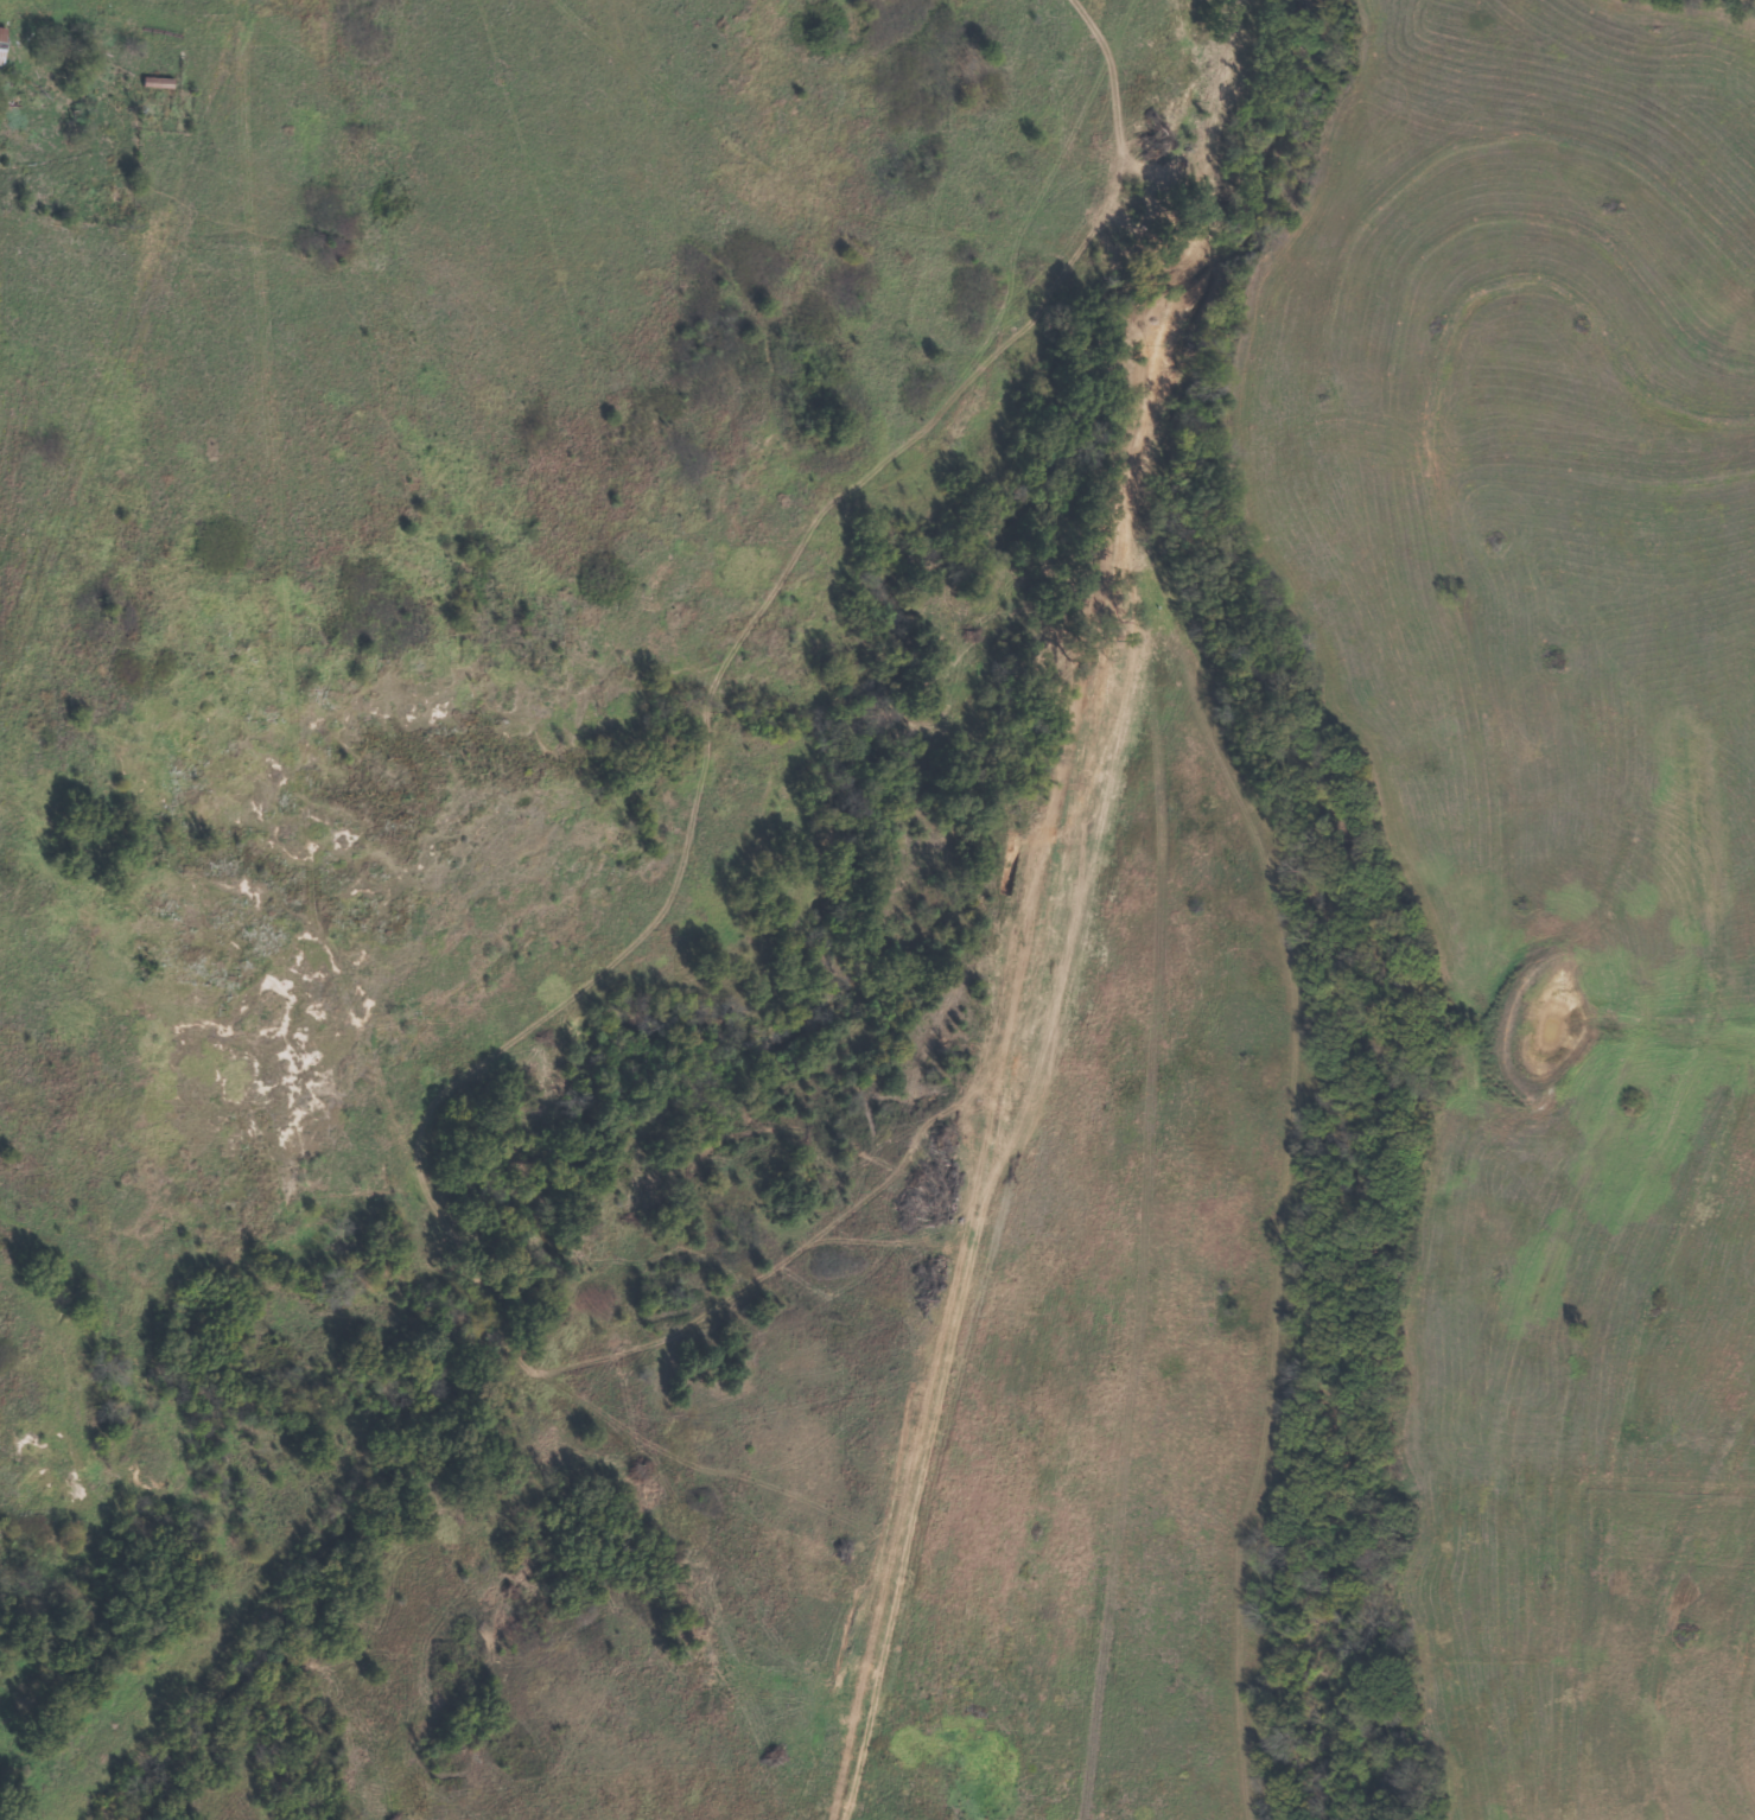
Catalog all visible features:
building: (1, 45)
building: (157, 82)

